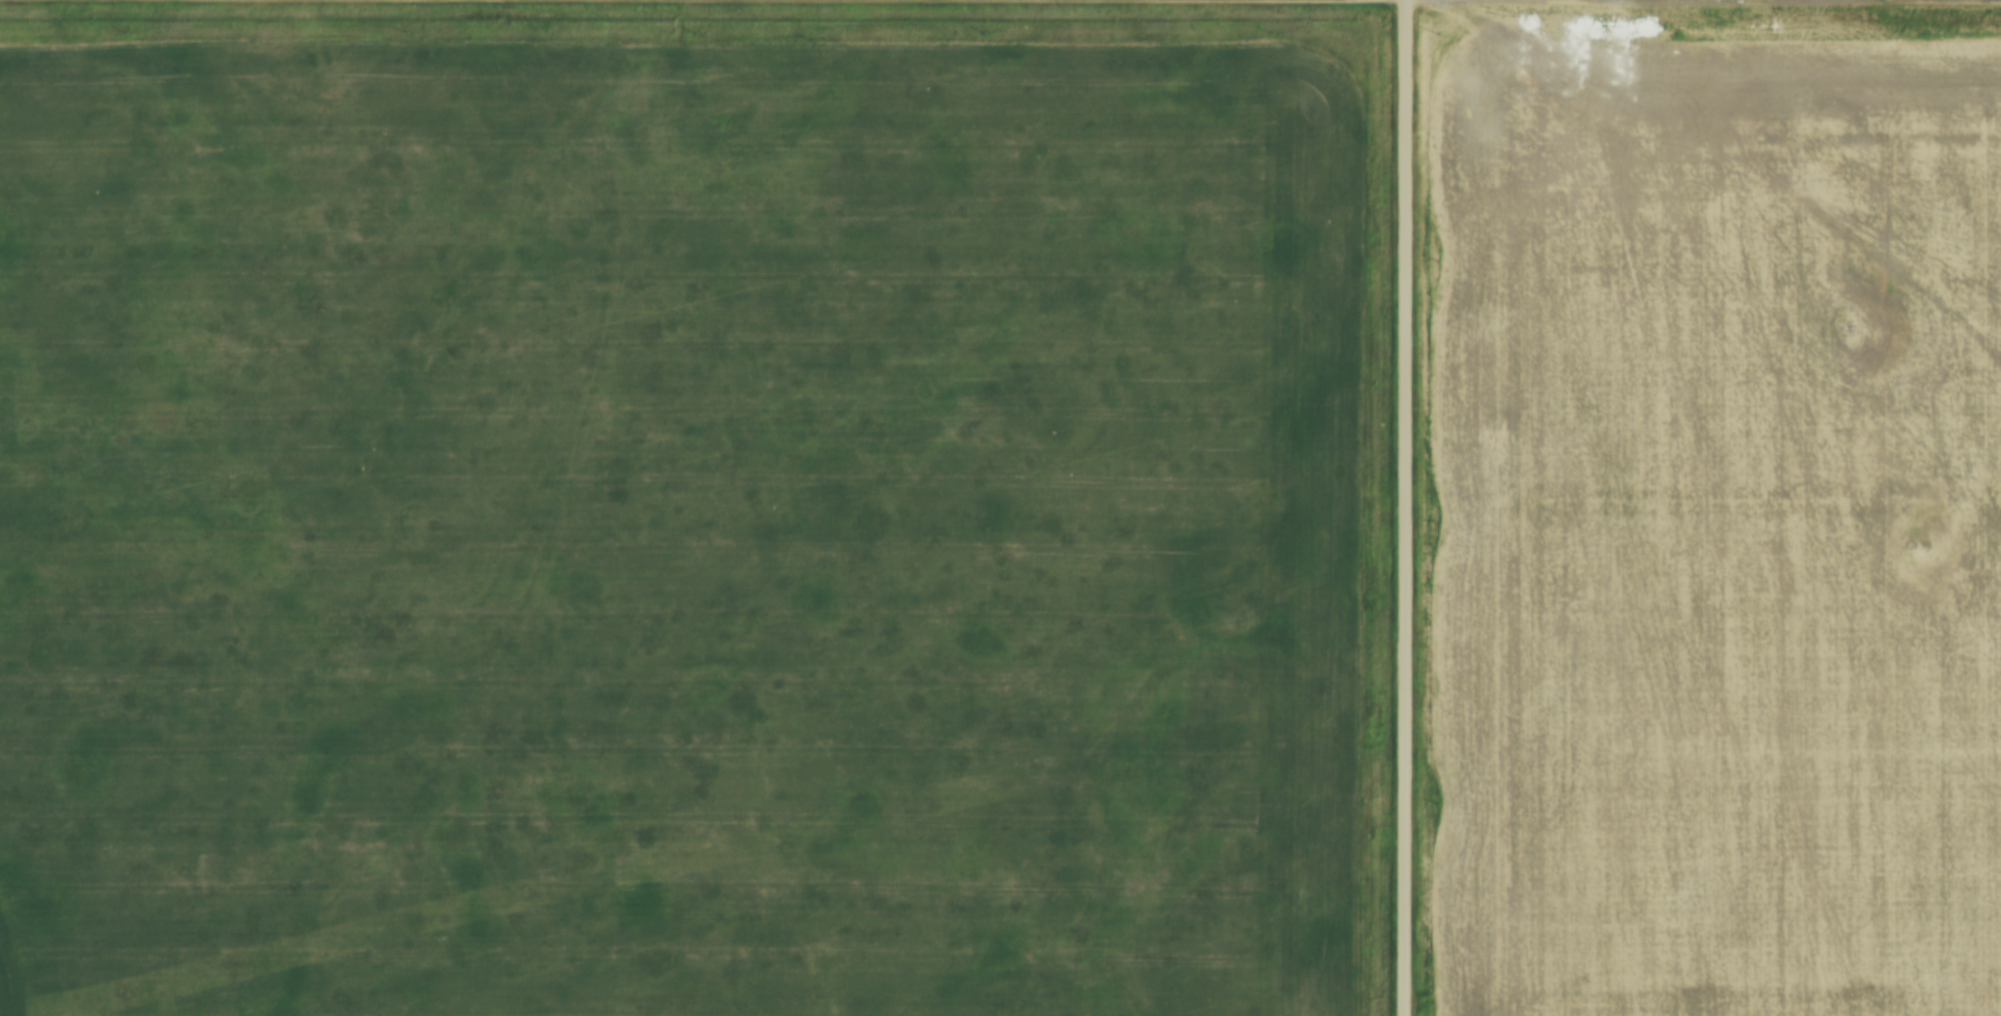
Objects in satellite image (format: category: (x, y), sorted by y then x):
road: (1904, 0)
road: (1404, 507)

